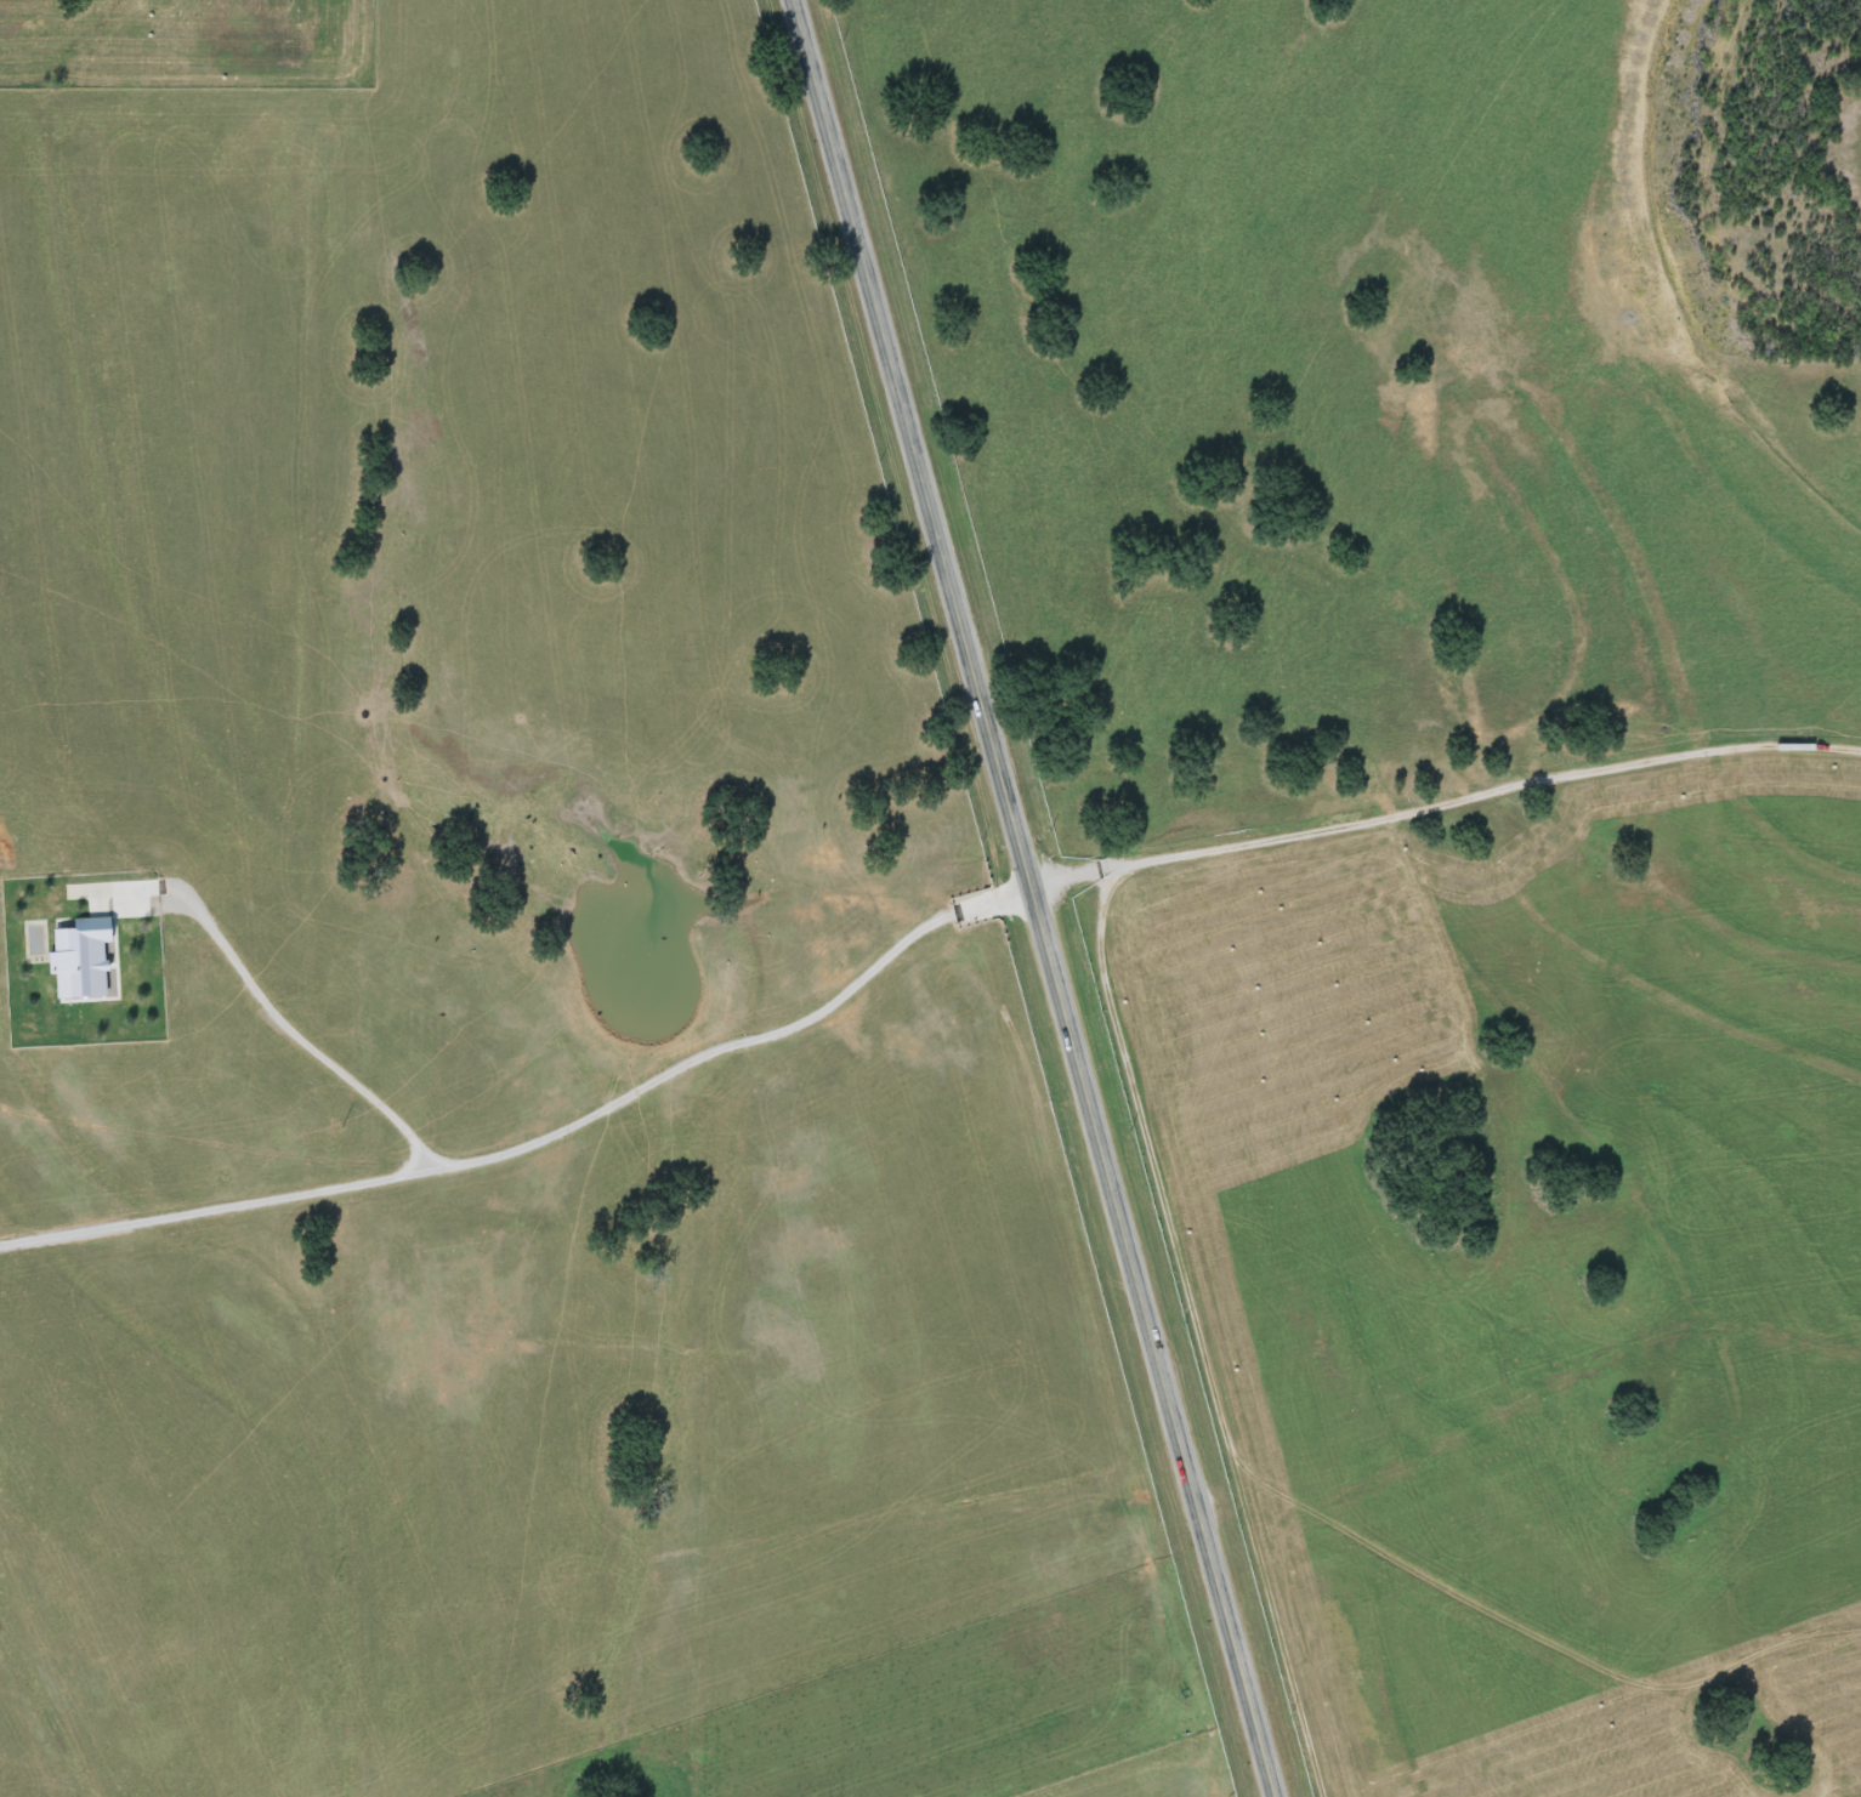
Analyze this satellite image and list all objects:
airport: (6, 83)
road: (1441, 796)
road: (1028, 898)

